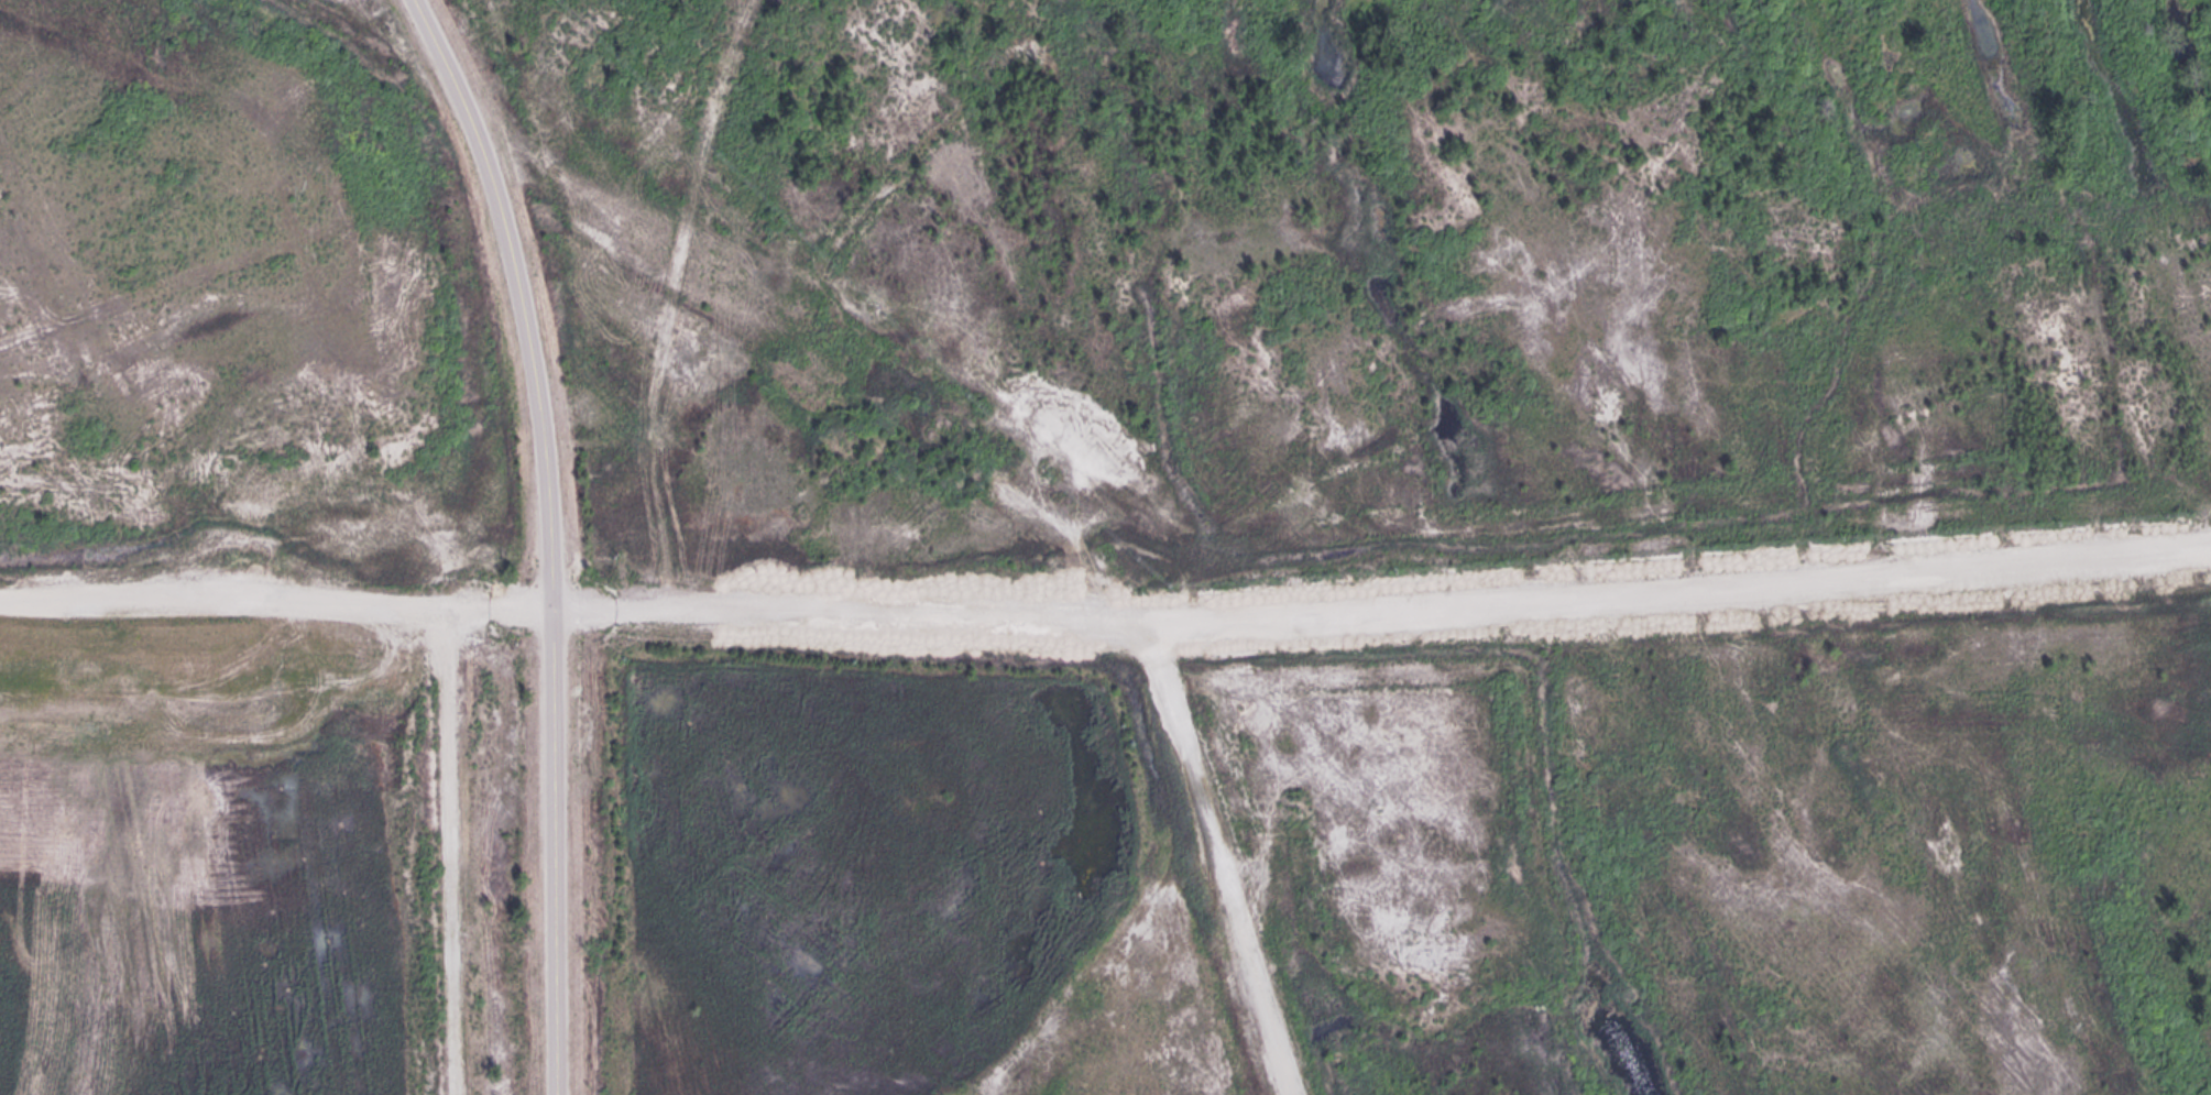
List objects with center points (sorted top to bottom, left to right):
road: (550, 536)
road: (1681, 583)
road: (123, 605)
road: (1097, 622)

